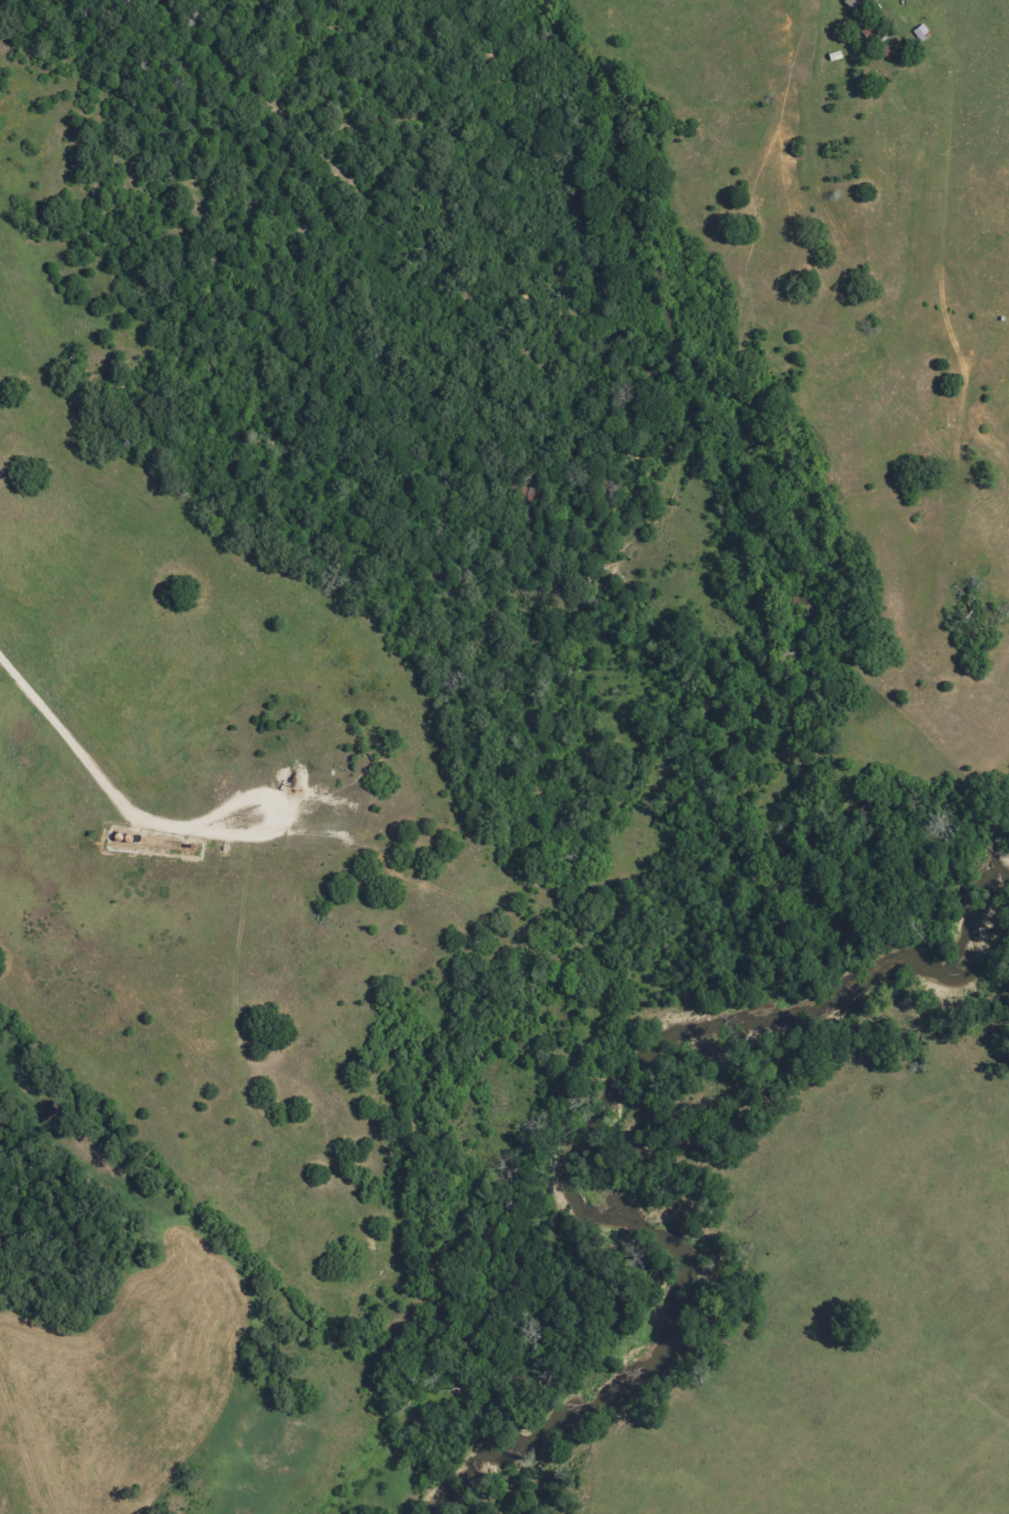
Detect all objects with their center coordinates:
building: (860, 5)
petroleum well: (290, 781)

